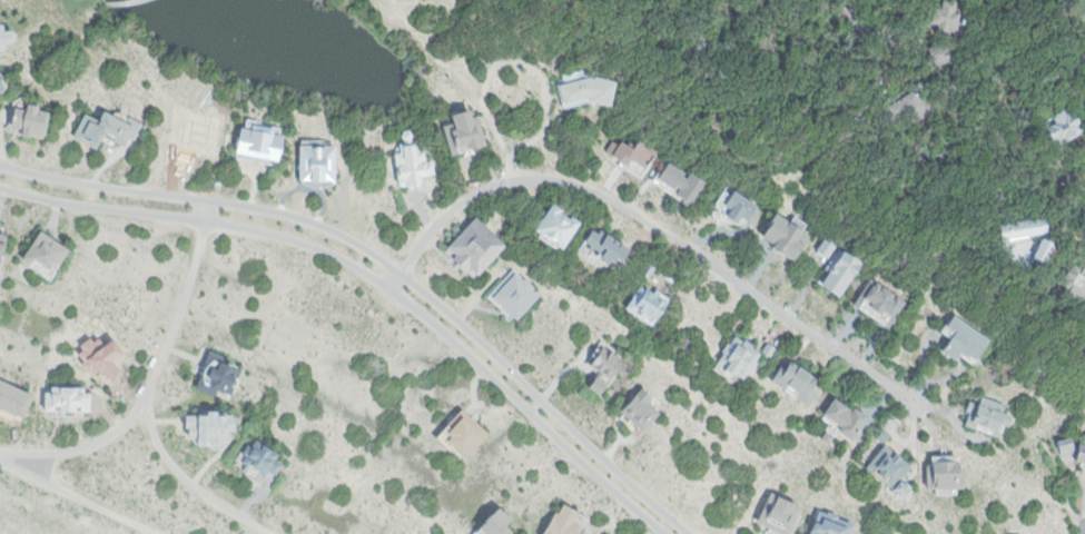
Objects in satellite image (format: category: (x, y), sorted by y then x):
road: (115, 0)
road: (852, 17)
building: (946, 27)
building: (6, 37)
building: (2, 87)
building: (588, 88)
building: (908, 107)
building: (31, 120)
building: (465, 128)
building: (106, 129)
building: (1061, 129)
building: (262, 140)
building: (631, 151)
building: (318, 161)
building: (412, 161)
building: (679, 181)
building: (734, 207)
road: (652, 225)
building: (558, 227)
building: (476, 246)
building: (606, 246)
building: (46, 251)
road: (388, 263)
building: (837, 263)
building: (647, 271)
road: (375, 276)
building: (1075, 277)
building: (516, 294)
building: (880, 300)
building: (649, 301)
building: (964, 339)
building: (744, 354)
building: (606, 368)
building: (221, 374)
building: (797, 380)
road: (151, 389)
building: (13, 398)
building: (68, 400)
building: (641, 409)
building: (987, 414)
building: (846, 417)
building: (210, 428)
building: (464, 433)
building: (828, 436)
road: (89, 446)
building: (1081, 452)
building: (256, 458)
building: (890, 465)
road: (79, 496)
building: (779, 513)
building: (562, 521)
building: (496, 523)

